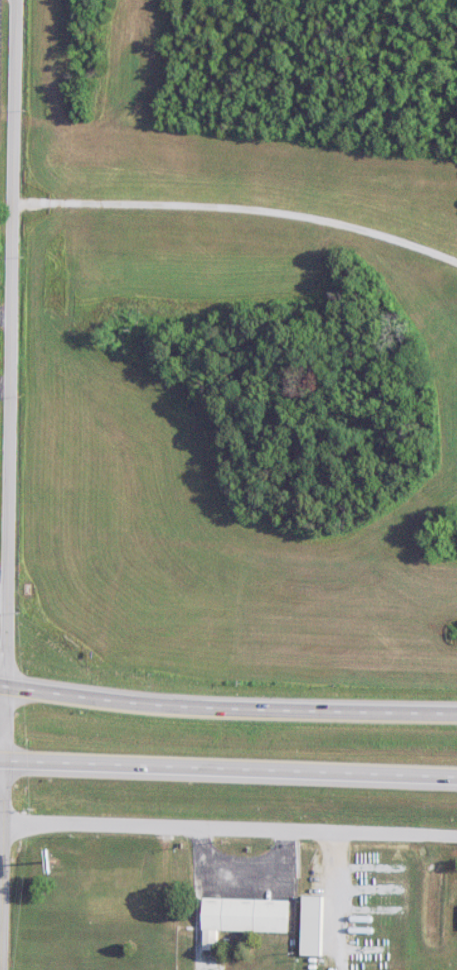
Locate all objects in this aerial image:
road: (239, 208)
road: (12, 345)
road: (227, 710)
road: (5, 726)
road: (228, 770)
road: (213, 829)
road: (2, 866)
building: (244, 915)

